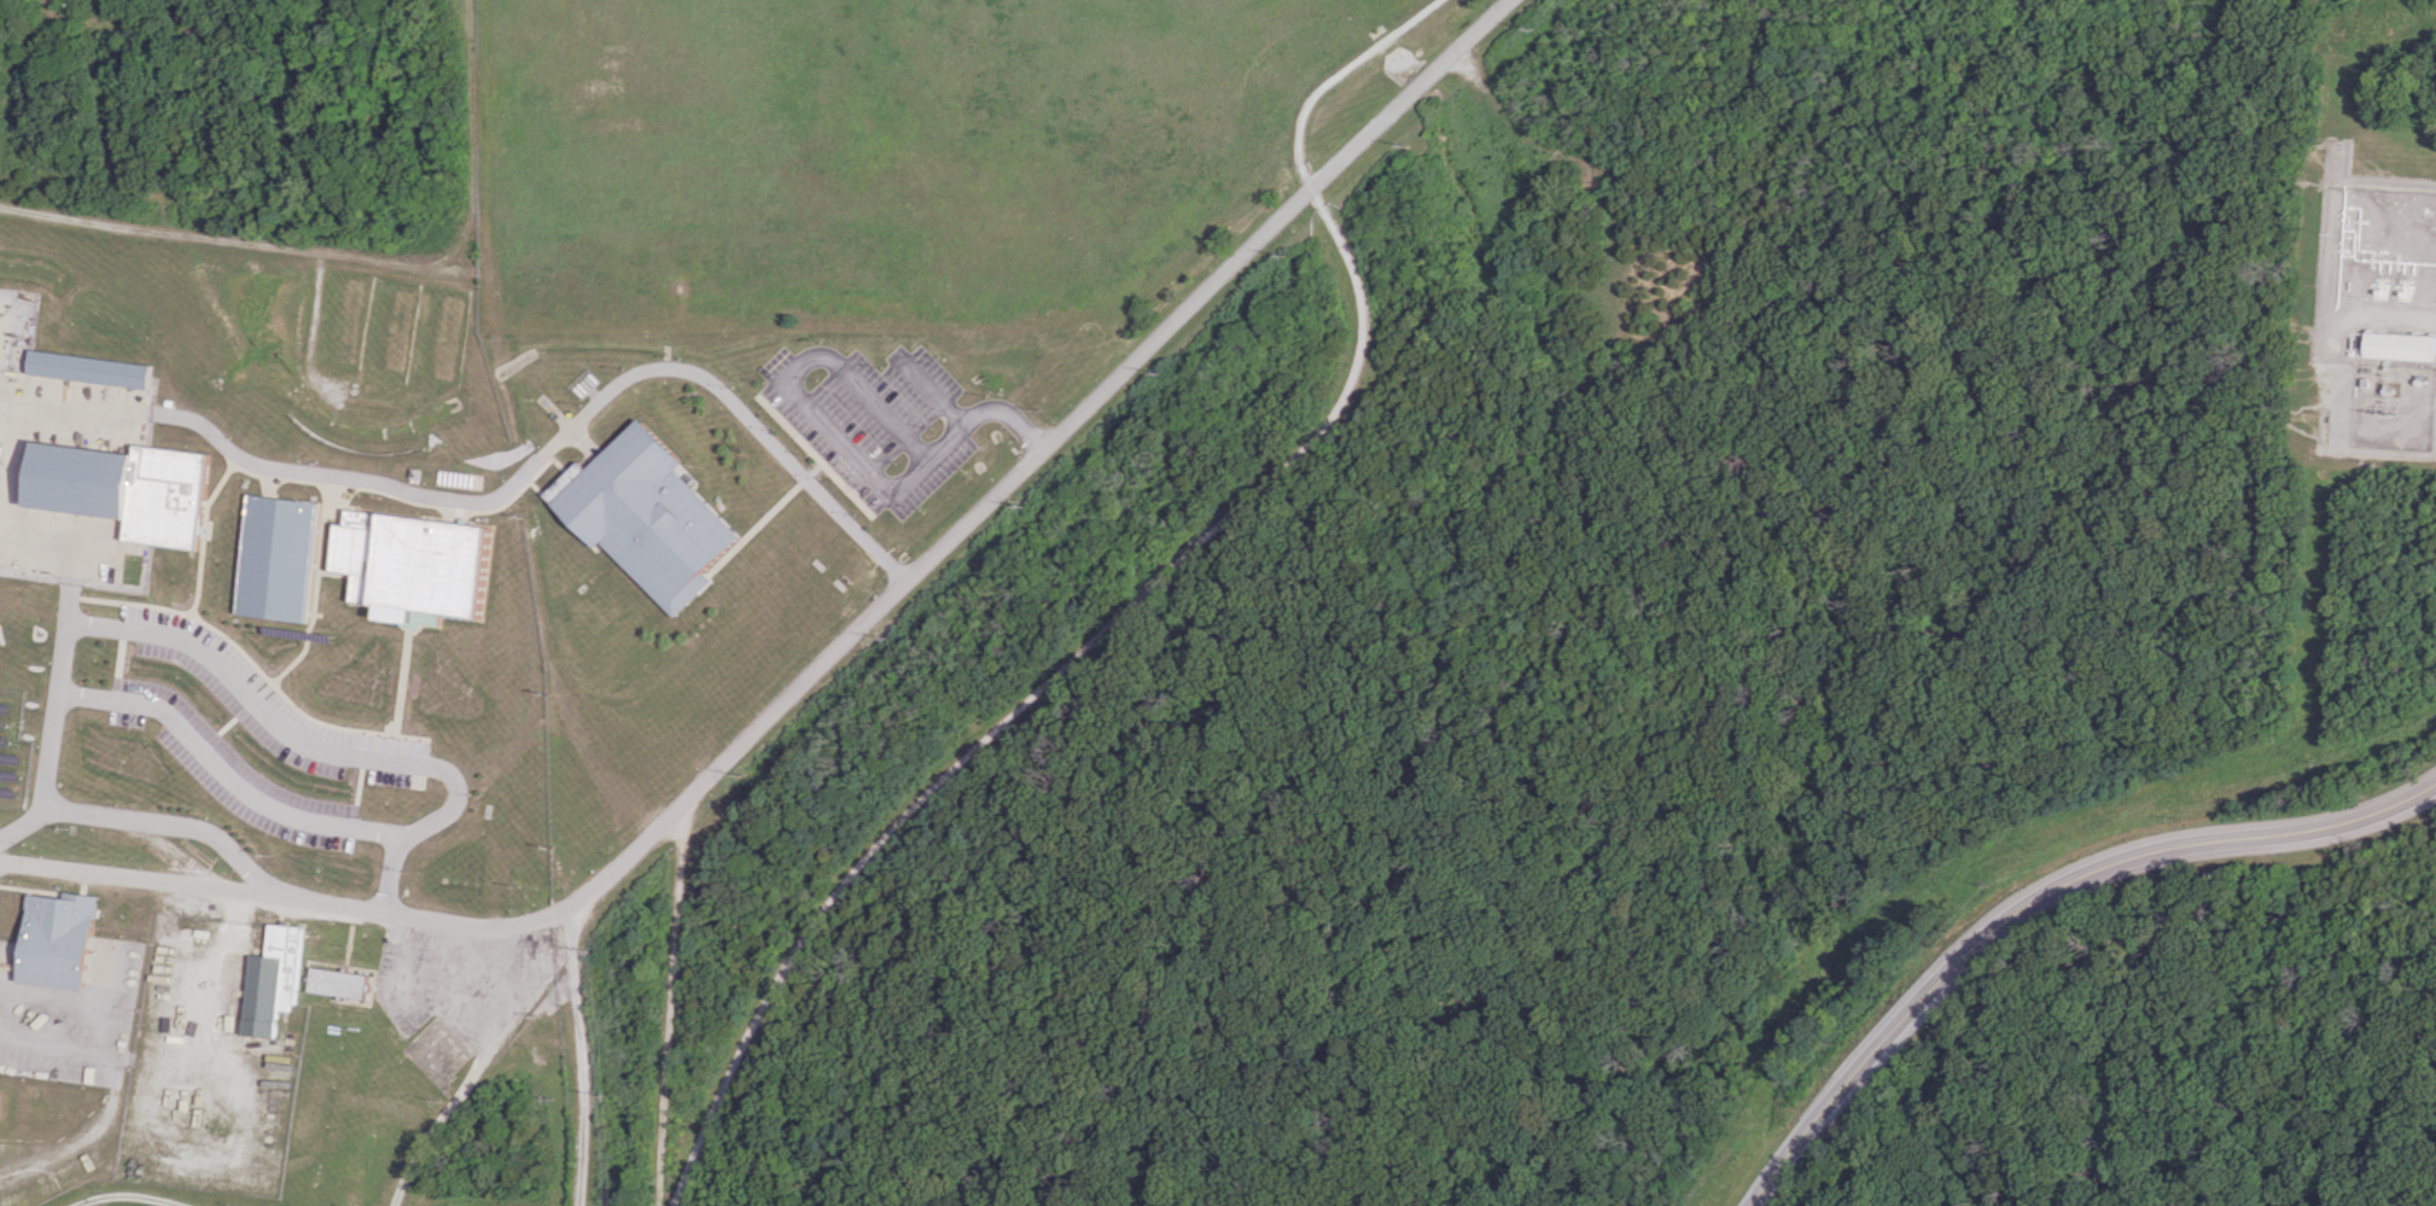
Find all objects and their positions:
road: (471, 56)
park: (899, 151)
road: (471, 196)
road: (235, 237)
road: (2397, 317)
building: (2399, 345)
building: (88, 367)
road: (927, 390)
road: (2419, 409)
parking lot: (873, 419)
road: (837, 436)
road: (1027, 459)
building: (124, 488)
road: (507, 489)
building: (642, 514)
road: (7, 538)
building: (275, 557)
building: (413, 565)
road: (65, 594)
road: (1136, 600)
road: (244, 693)
parking lot: (250, 734)
road: (225, 774)
road: (145, 821)
road: (422, 827)
road: (275, 897)
road: (2035, 898)
building: (56, 938)
building: (272, 979)
building: (337, 981)
road: (668, 1001)
road: (581, 1055)
road: (473, 1074)
road: (112, 1093)
road: (121, 1196)

